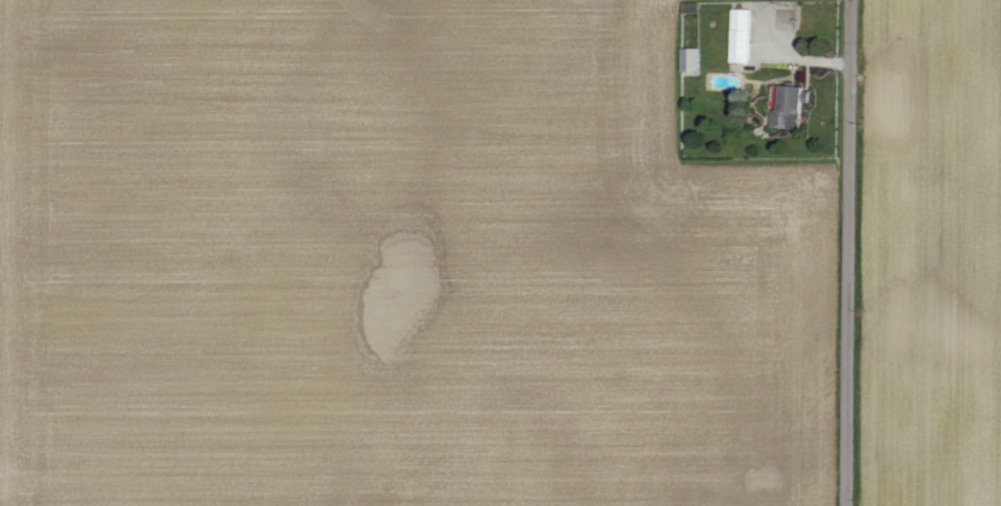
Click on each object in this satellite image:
building: (743, 36)
building: (692, 59)
building: (790, 107)
road: (848, 253)

